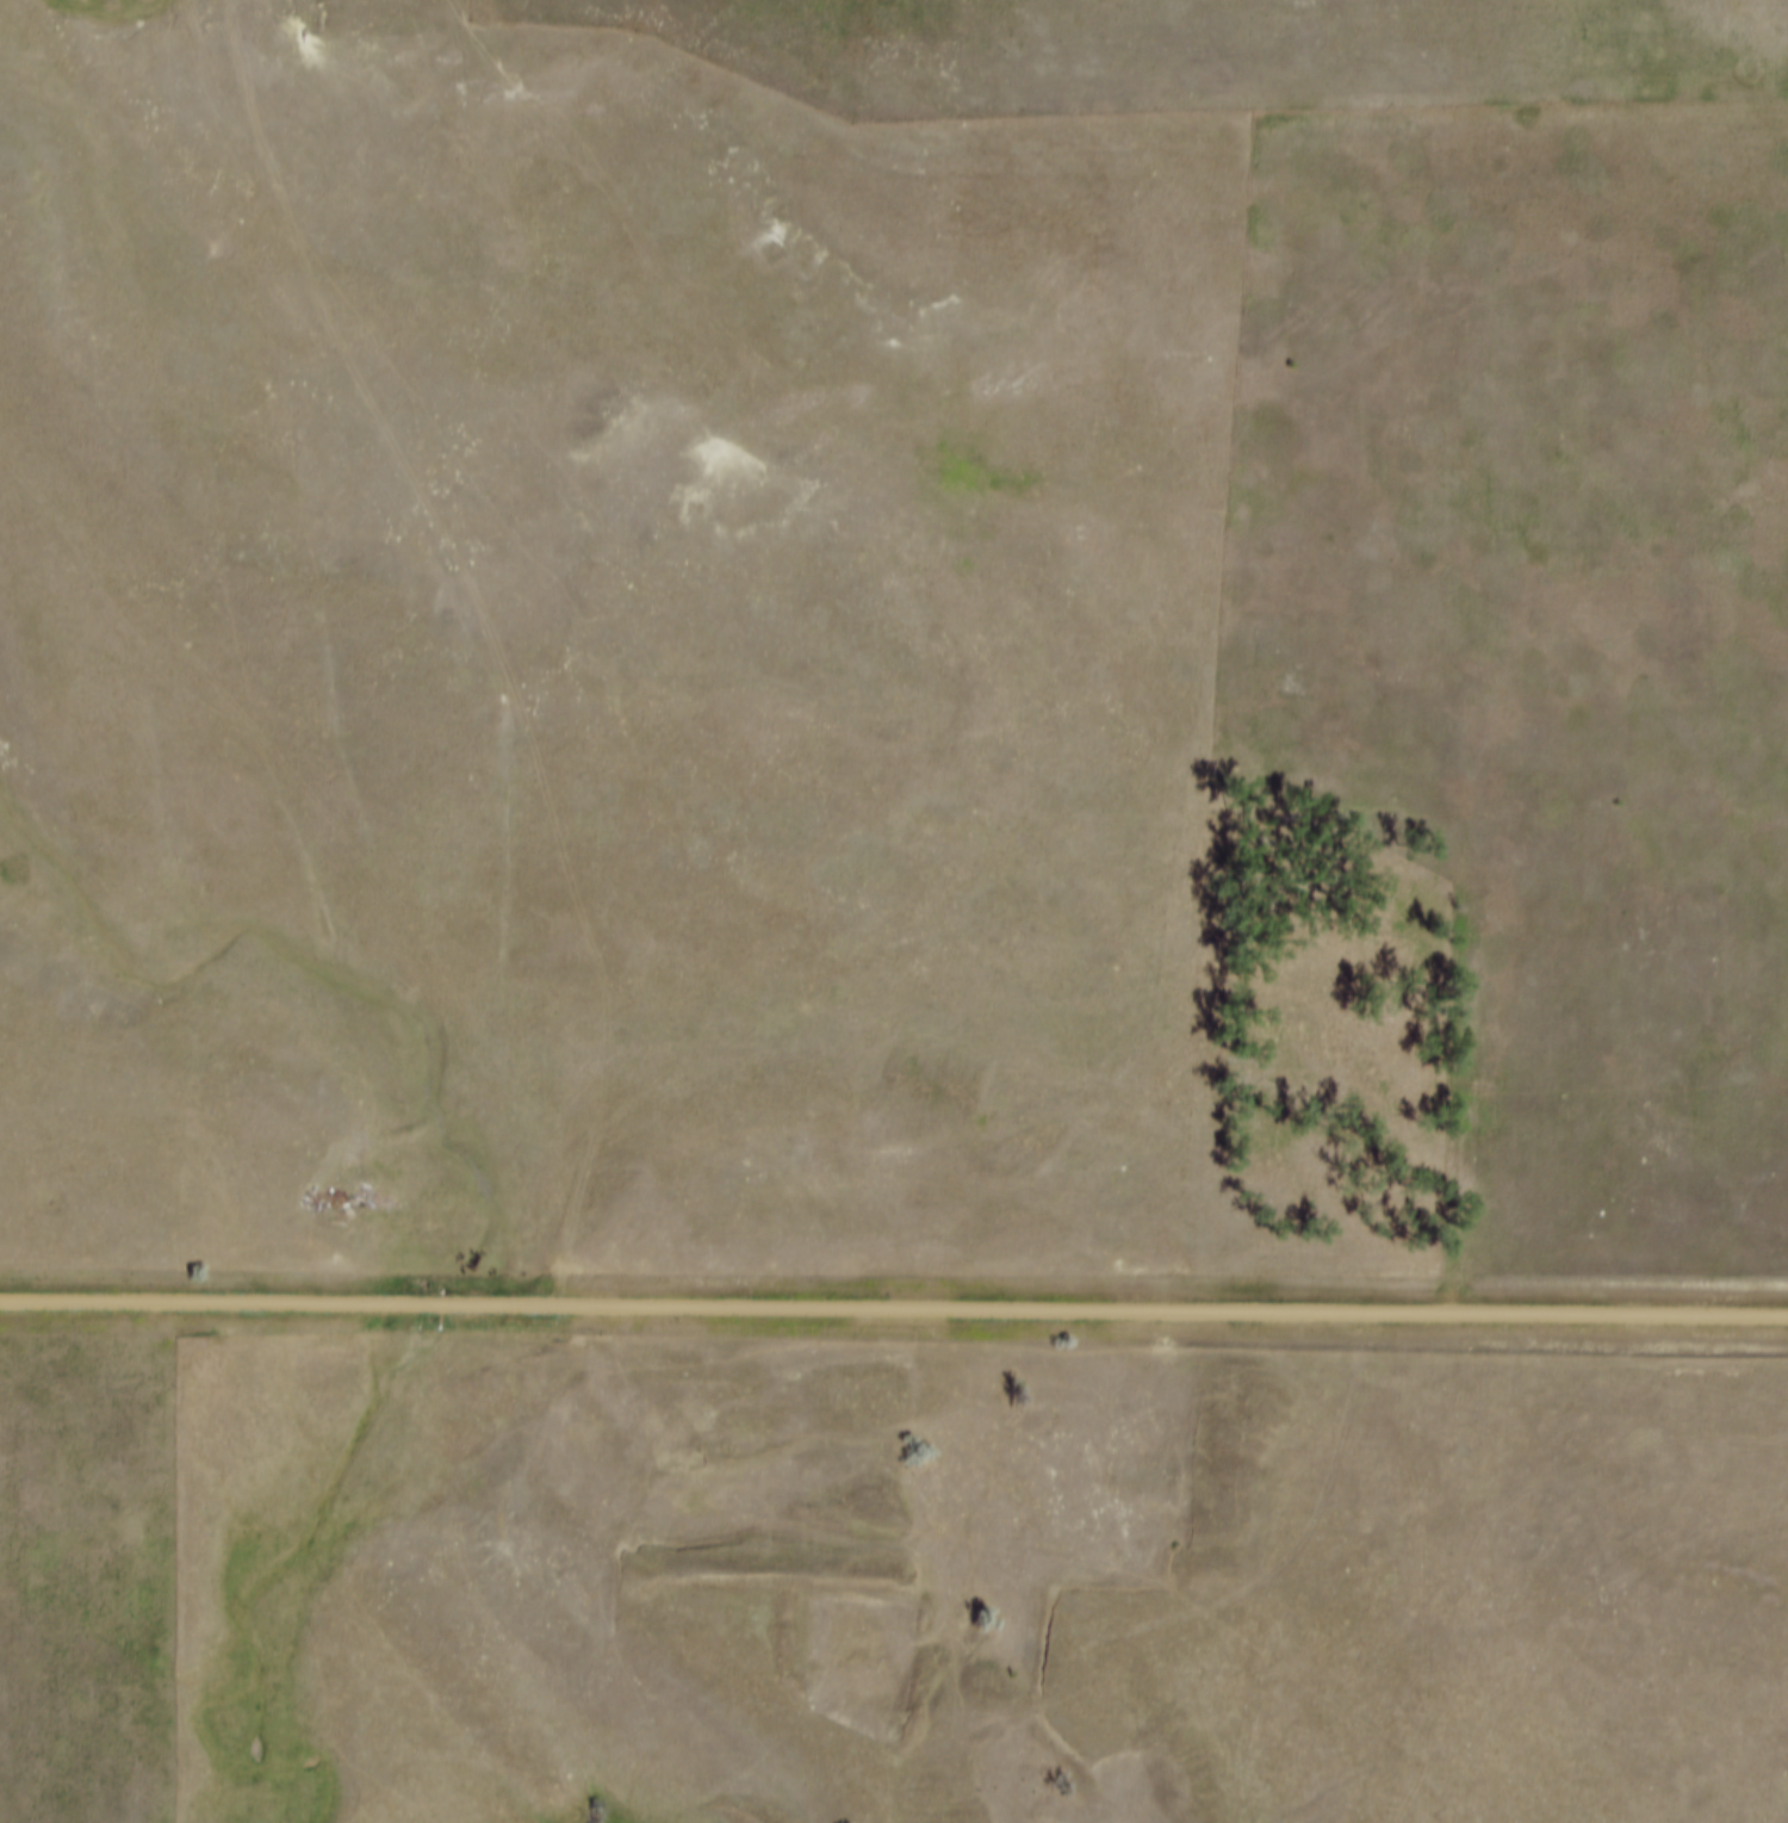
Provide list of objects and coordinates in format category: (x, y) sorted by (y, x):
road: (894, 1310)

